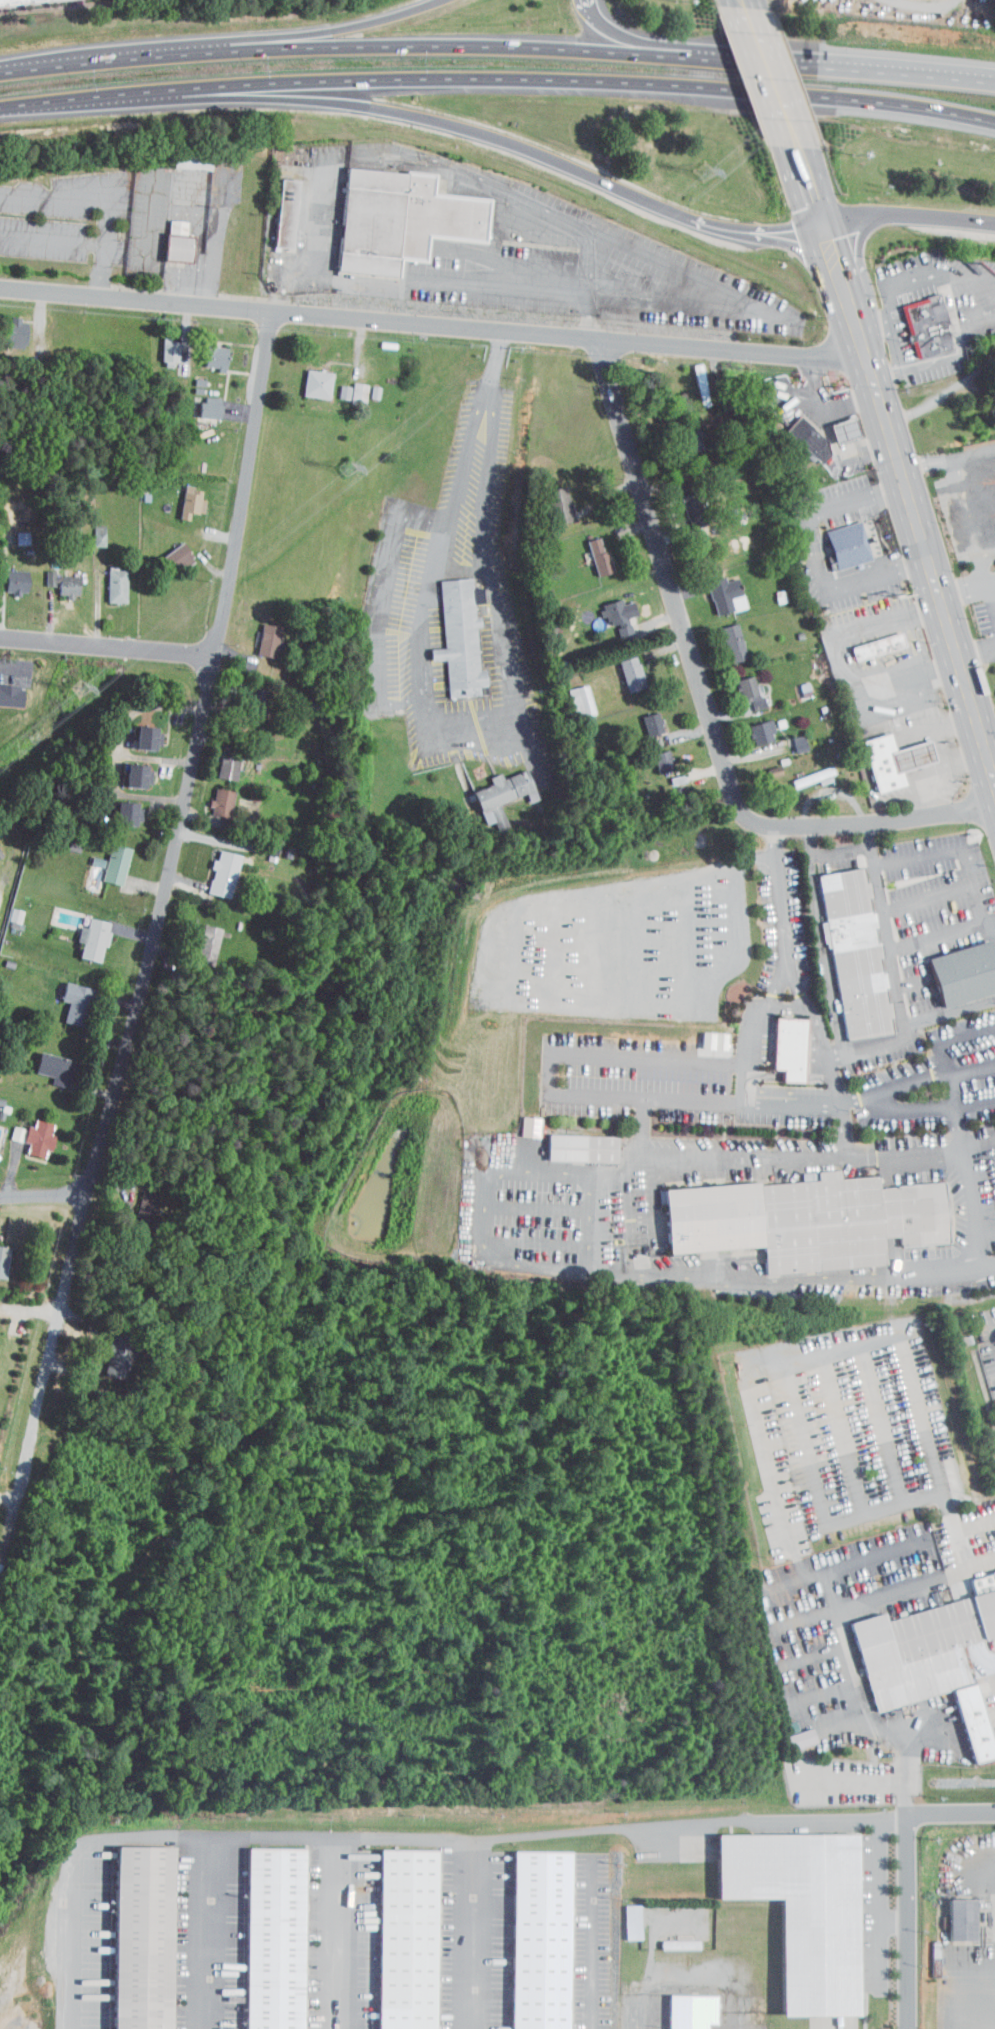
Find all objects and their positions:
building: (11, 1)
road: (591, 5)
road: (746, 6)
road: (326, 31)
road: (633, 36)
road: (446, 45)
road: (106, 59)
road: (837, 64)
road: (771, 75)
road: (568, 78)
road: (69, 97)
road: (425, 117)
power tower: (705, 173)
road: (808, 181)
road: (80, 195)
building: (276, 207)
building: (390, 213)
road: (908, 213)
traffic signals: (823, 225)
road: (758, 232)
building: (168, 235)
road: (53, 240)
road: (671, 264)
road: (105, 269)
road: (839, 271)
road: (925, 276)
road: (286, 289)
building: (917, 320)
road: (434, 322)
building: (7, 326)
road: (875, 328)
building: (159, 346)
road: (896, 346)
building: (205, 351)
road: (497, 354)
road: (946, 358)
building: (307, 377)
building: (335, 385)
building: (346, 385)
building: (200, 401)
road: (829, 402)
building: (836, 423)
building: (847, 430)
building: (799, 434)
road: (949, 460)
power tower: (349, 467)
road: (963, 486)
building: (181, 496)
road: (860, 497)
building: (550, 499)
building: (684, 503)
road: (972, 521)
building: (89, 529)
building: (850, 545)
road: (926, 546)
road: (814, 549)
building: (590, 551)
building: (167, 552)
road: (982, 558)
road: (879, 572)
building: (8, 575)
building: (53, 577)
building: (107, 579)
road: (992, 586)
building: (716, 589)
road: (966, 592)
road: (992, 596)
road: (377, 602)
building: (609, 608)
building: (449, 633)
building: (260, 635)
building: (724, 636)
building: (868, 640)
road: (110, 649)
road: (831, 655)
road: (977, 655)
road: (13, 664)
building: (622, 667)
building: (740, 686)
building: (5, 689)
power tower: (83, 690)
building: (572, 695)
road: (705, 698)
building: (642, 718)
building: (752, 727)
building: (135, 732)
road: (458, 732)
road: (904, 736)
building: (790, 738)
road: (991, 748)
road: (119, 753)
building: (653, 755)
building: (914, 755)
road: (158, 758)
building: (218, 761)
building: (885, 762)
building: (126, 770)
building: (805, 771)
building: (493, 790)
building: (211, 796)
building: (118, 808)
road: (855, 832)
road: (956, 842)
building: (105, 858)
building: (213, 868)
road: (168, 882)
road: (922, 890)
road: (779, 899)
building: (5, 908)
road: (701, 910)
road: (931, 928)
building: (83, 933)
building: (197, 939)
road: (878, 946)
building: (845, 949)
road: (825, 955)
building: (965, 973)
building: (64, 997)
road: (812, 1009)
road: (764, 1016)
building: (780, 1043)
road: (876, 1047)
building: (44, 1061)
road: (952, 1069)
road: (553, 1075)
road: (839, 1077)
road: (745, 1080)
road: (897, 1087)
road: (696, 1102)
road: (793, 1103)
road: (976, 1104)
building: (7, 1127)
road: (845, 1128)
building: (28, 1131)
building: (572, 1140)
road: (980, 1141)
road: (804, 1153)
road: (47, 1193)
road: (974, 1198)
building: (714, 1217)
road: (981, 1251)
road: (492, 1259)
road: (794, 1280)
road: (986, 1339)
building: (107, 1349)
road: (817, 1352)
road: (883, 1424)
road: (846, 1433)
road: (809, 1442)
road: (18, 1499)
road: (870, 1515)
road: (879, 1554)
road: (973, 1565)
road: (818, 1573)
road: (936, 1579)
road: (799, 1609)
road: (806, 1647)
building: (925, 1647)
road: (867, 1711)
building: (791, 1732)
road: (866, 1781)
road: (895, 1816)
road: (809, 1818)
road: (599, 1821)
road: (276, 1837)
road: (906, 1877)
road: (883, 1882)
building: (793, 1905)
building: (953, 1913)
building: (622, 1916)
road: (201, 1932)
road: (339, 1933)
building: (131, 1934)
building: (264, 1935)
building: (397, 1936)
building: (530, 1936)
building: (669, 1938)
road: (590, 1943)
building: (681, 2008)

